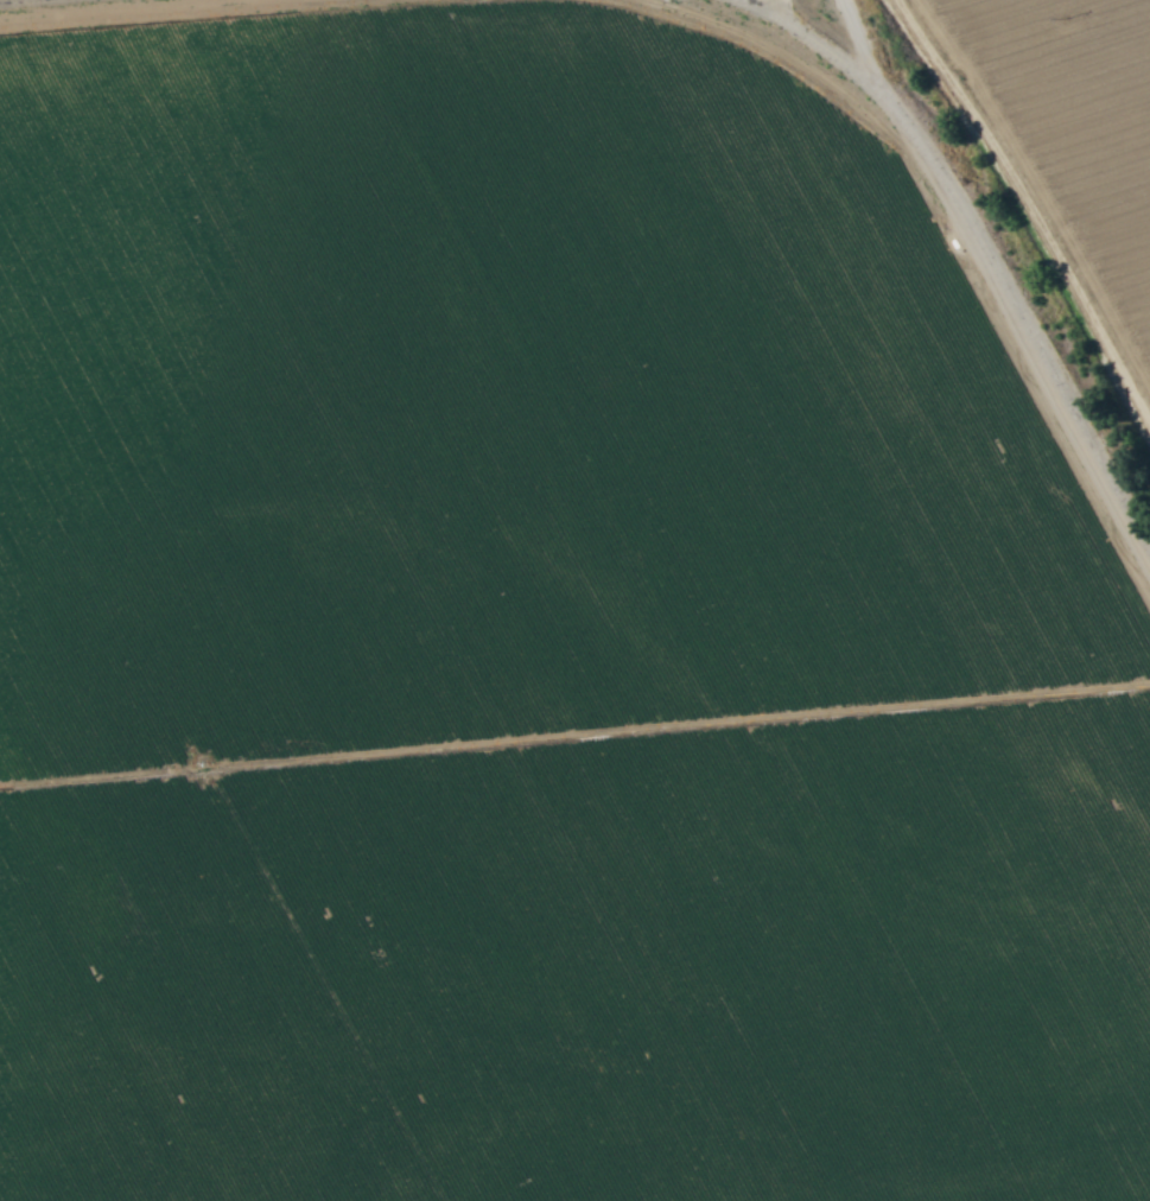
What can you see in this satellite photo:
road: (872, 52)
road: (990, 239)

